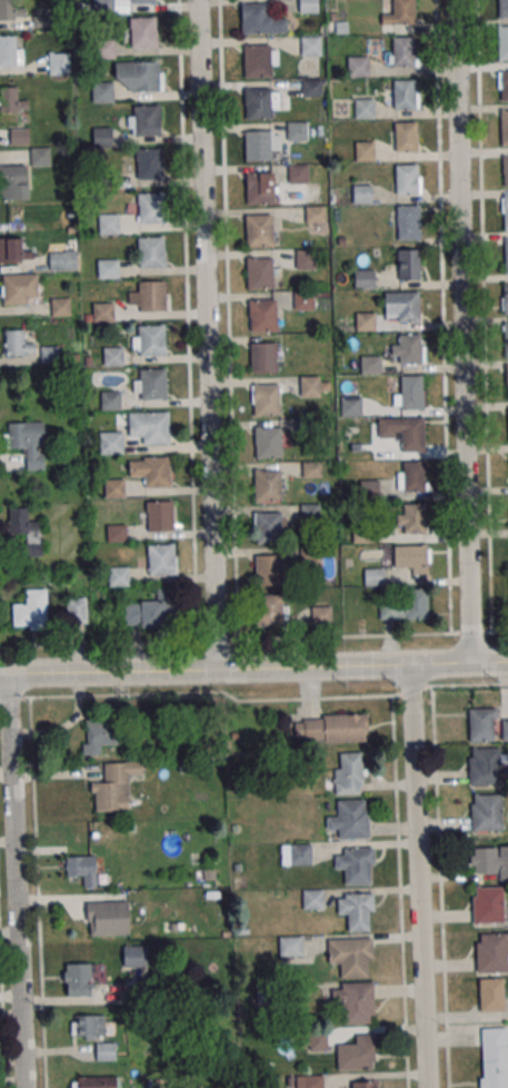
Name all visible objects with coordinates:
building: (142, 1)
building: (103, 6)
building: (309, 6)
building: (504, 8)
building: (11, 10)
building: (399, 13)
building: (255, 19)
building: (40, 21)
building: (142, 31)
building: (504, 44)
building: (311, 46)
building: (103, 48)
building: (10, 50)
building: (404, 51)
building: (256, 60)
building: (59, 62)
building: (358, 66)
building: (138, 75)
building: (505, 86)
building: (101, 91)
building: (400, 95)
building: (12, 100)
building: (258, 103)
building: (363, 108)
building: (147, 120)
building: (505, 127)
building: (297, 130)
building: (16, 135)
building: (101, 136)
building: (405, 136)
building: (258, 146)
building: (365, 150)
building: (40, 156)
building: (150, 164)
building: (505, 170)
building: (298, 174)
building: (407, 178)
building: (13, 181)
building: (258, 188)
building: (361, 194)
building: (151, 208)
building: (505, 212)
building: (315, 214)
building: (408, 221)
building: (108, 224)
building: (259, 230)
building: (13, 250)
building: (152, 251)
building: (507, 254)
building: (62, 258)
building: (305, 258)
building: (409, 264)
building: (108, 268)
building: (260, 273)
building: (363, 278)
building: (20, 288)
building: (152, 296)
building: (506, 299)
building: (303, 300)
building: (60, 306)
building: (408, 306)
building: (102, 313)
building: (263, 315)
road: (187, 319)
building: (365, 322)
road: (462, 332)
road: (207, 335)
building: (506, 337)
building: (152, 340)
building: (17, 343)
building: (409, 348)
building: (49, 355)
building: (112, 356)
building: (262, 358)
building: (370, 365)
building: (507, 378)
building: (151, 383)
building: (310, 386)
building: (411, 390)
building: (110, 399)
building: (266, 399)
building: (155, 426)
building: (412, 435)
building: (28, 442)
building: (110, 443)
building: (268, 443)
road: (232, 455)
building: (311, 468)
building: (157, 471)
building: (414, 475)
building: (267, 486)
building: (114, 487)
building: (369, 488)
building: (160, 516)
building: (414, 517)
building: (268, 527)
building: (27, 530)
building: (116, 533)
building: (410, 558)
building: (161, 560)
building: (269, 570)
building: (118, 576)
building: (373, 576)
building: (417, 603)
building: (77, 609)
building: (269, 609)
building: (31, 610)
building: (151, 611)
building: (321, 615)
road: (118, 642)
road: (253, 670)
road: (469, 685)
building: (482, 724)
building: (330, 729)
building: (505, 730)
building: (101, 734)
building: (485, 765)
building: (349, 773)
building: (114, 785)
building: (487, 813)
building: (350, 819)
building: (296, 853)
building: (489, 859)
building: (356, 864)
road: (438, 866)
building: (81, 869)
road: (419, 876)
road: (14, 882)
road: (399, 891)
building: (312, 899)
building: (488, 904)
building: (357, 909)
building: (107, 918)
building: (290, 946)
building: (491, 953)
building: (135, 956)
building: (350, 956)
building: (77, 980)
building: (491, 993)
building: (355, 1001)
road: (2, 1005)
building: (88, 1026)
building: (106, 1051)
building: (357, 1054)
building: (494, 1057)
building: (305, 1081)
building: (97, 1082)
building: (363, 1085)

